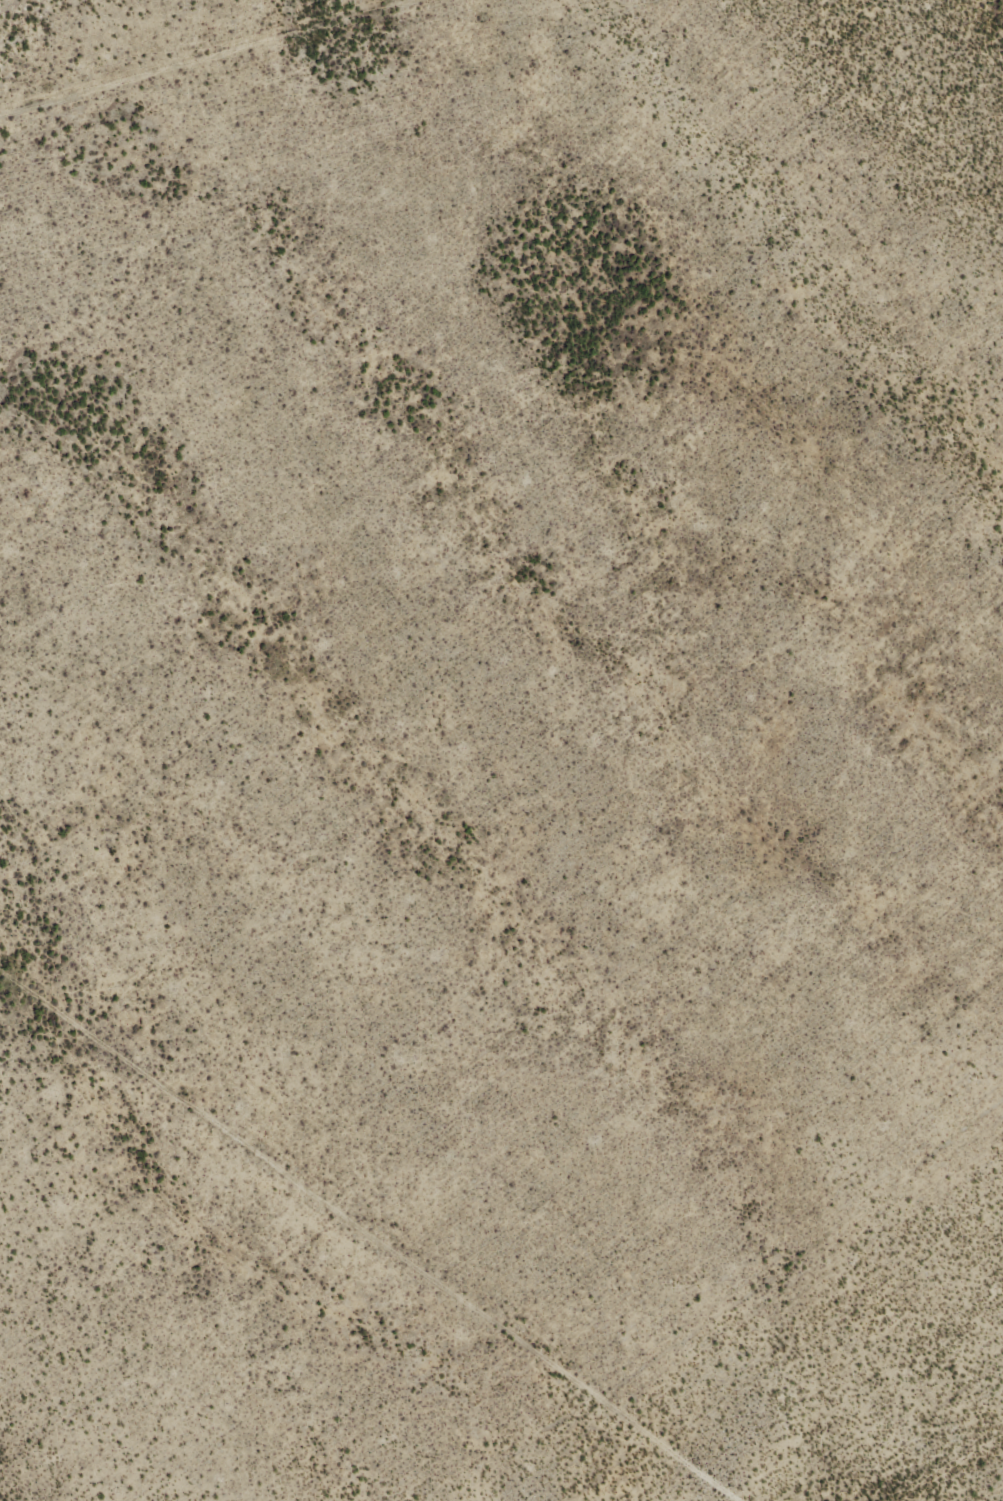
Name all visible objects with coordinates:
road: (374, 1231)

